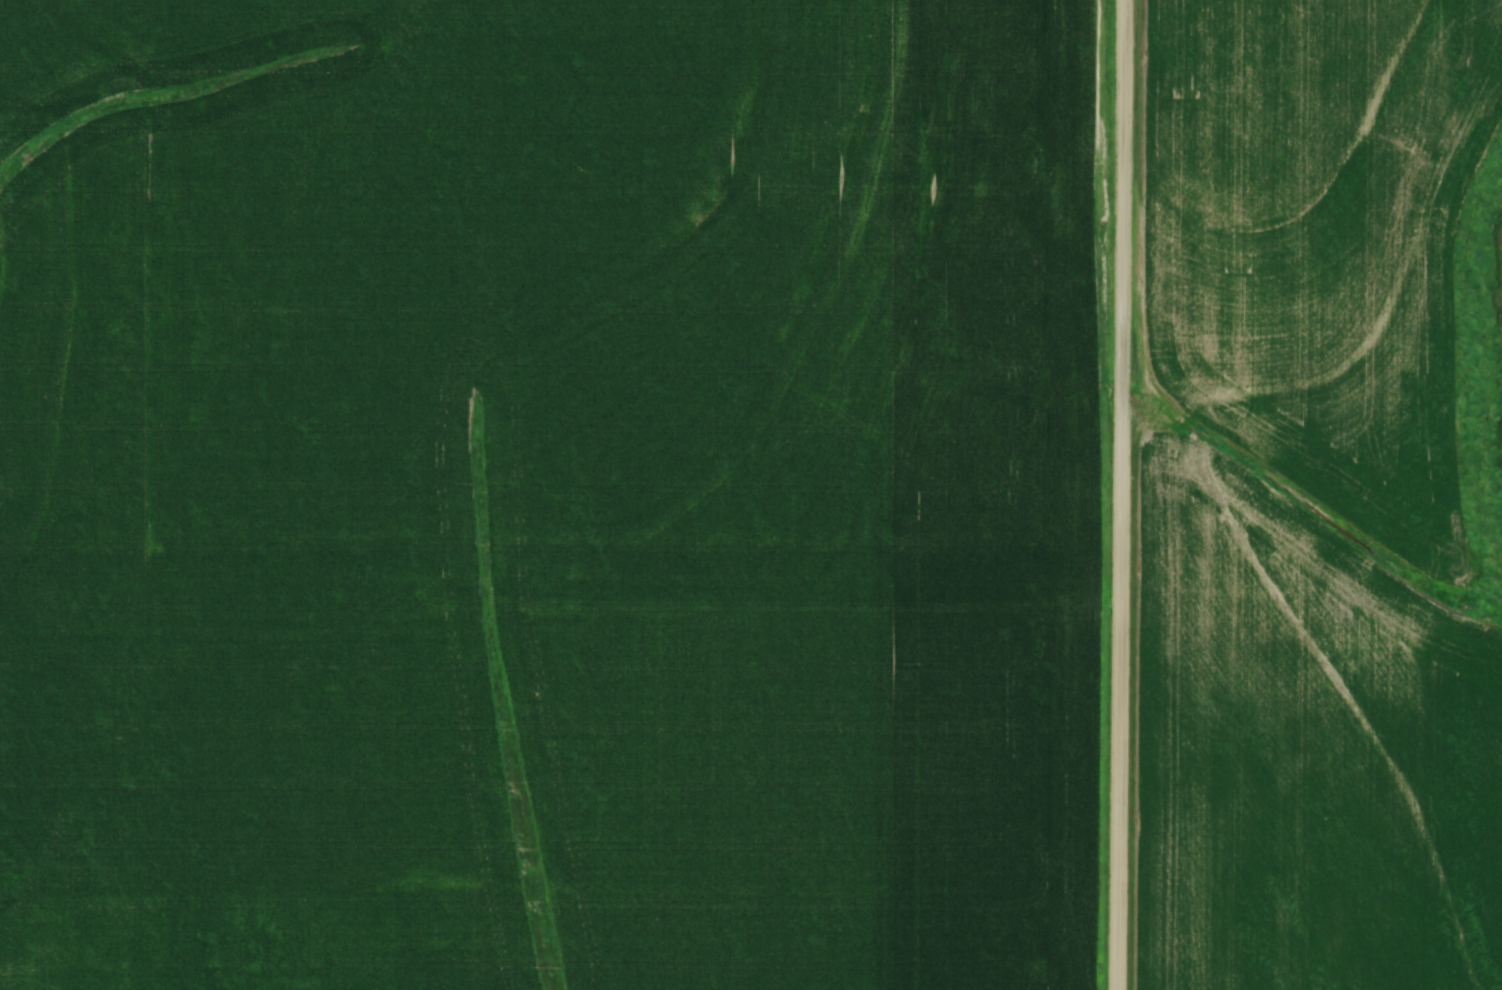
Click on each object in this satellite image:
road: (1123, 494)

